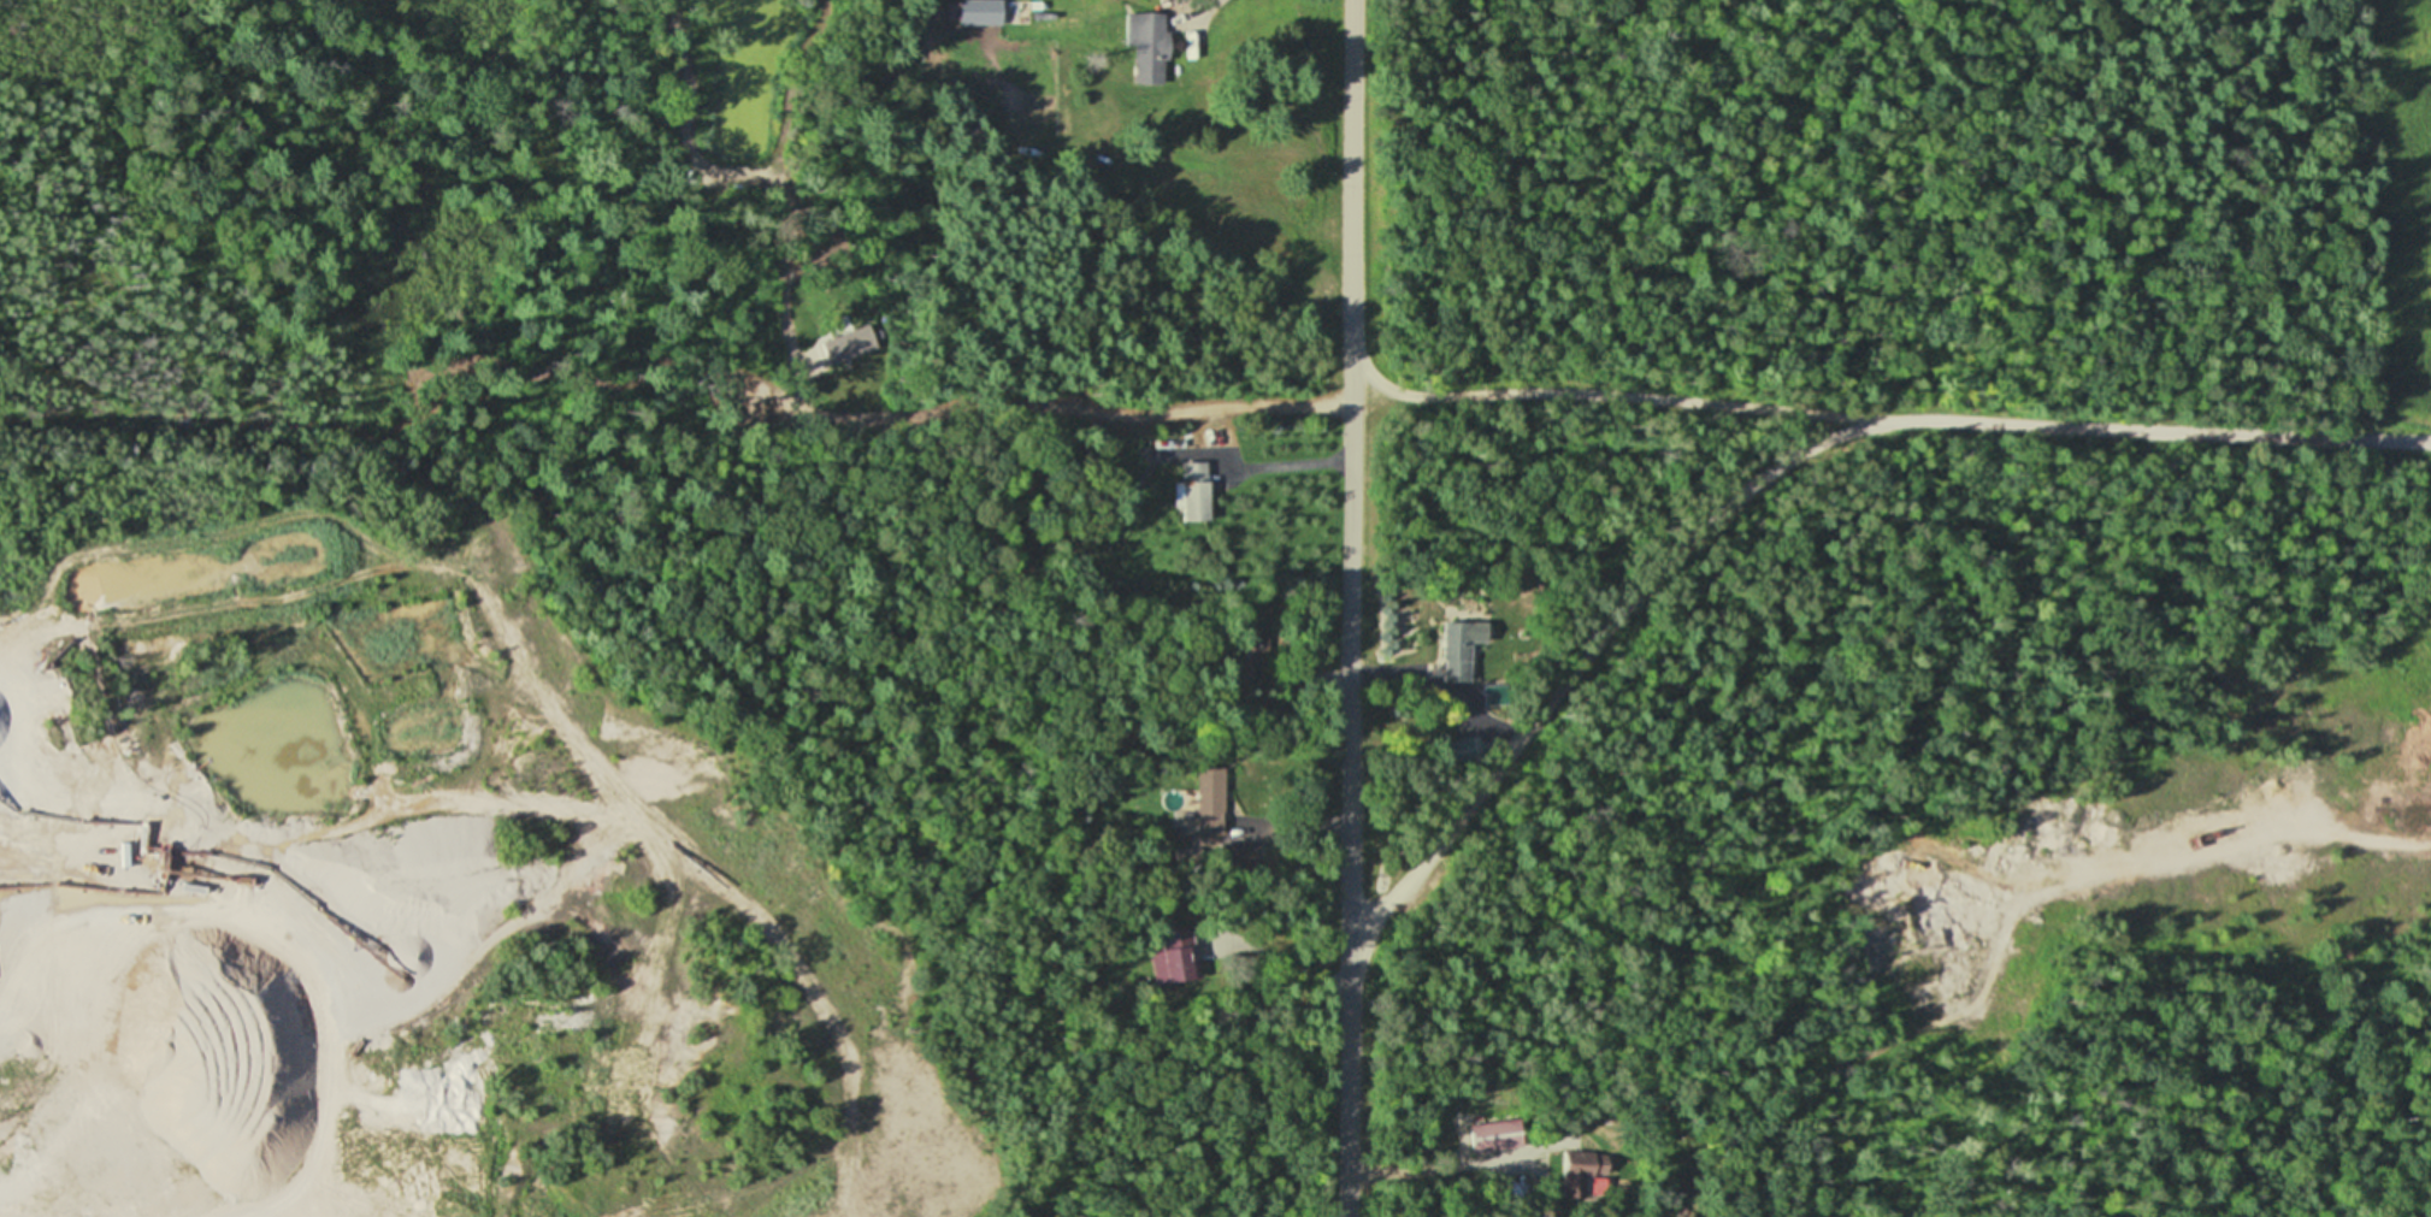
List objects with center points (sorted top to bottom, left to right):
building: (1149, 39)
road: (1880, 421)
building: (1192, 491)
road: (1350, 608)
building: (1461, 650)
road: (1588, 663)
building: (1495, 696)
quarry: (478, 748)
building: (1457, 751)
building: (1210, 813)
road: (2277, 838)
building: (1175, 956)
road: (276, 980)
building: (1497, 1135)
building: (1583, 1165)

